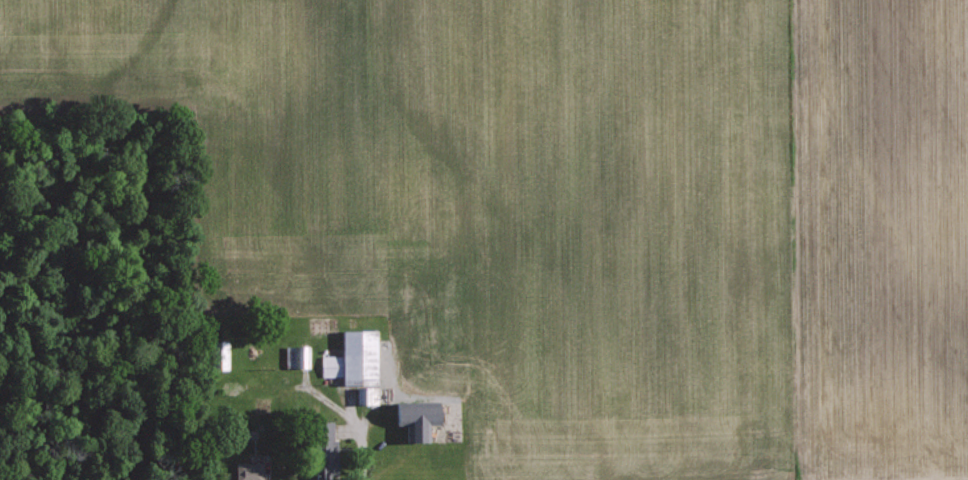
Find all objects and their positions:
building: (219, 354)
building: (354, 358)
building: (417, 418)
building: (326, 443)
building: (250, 471)

